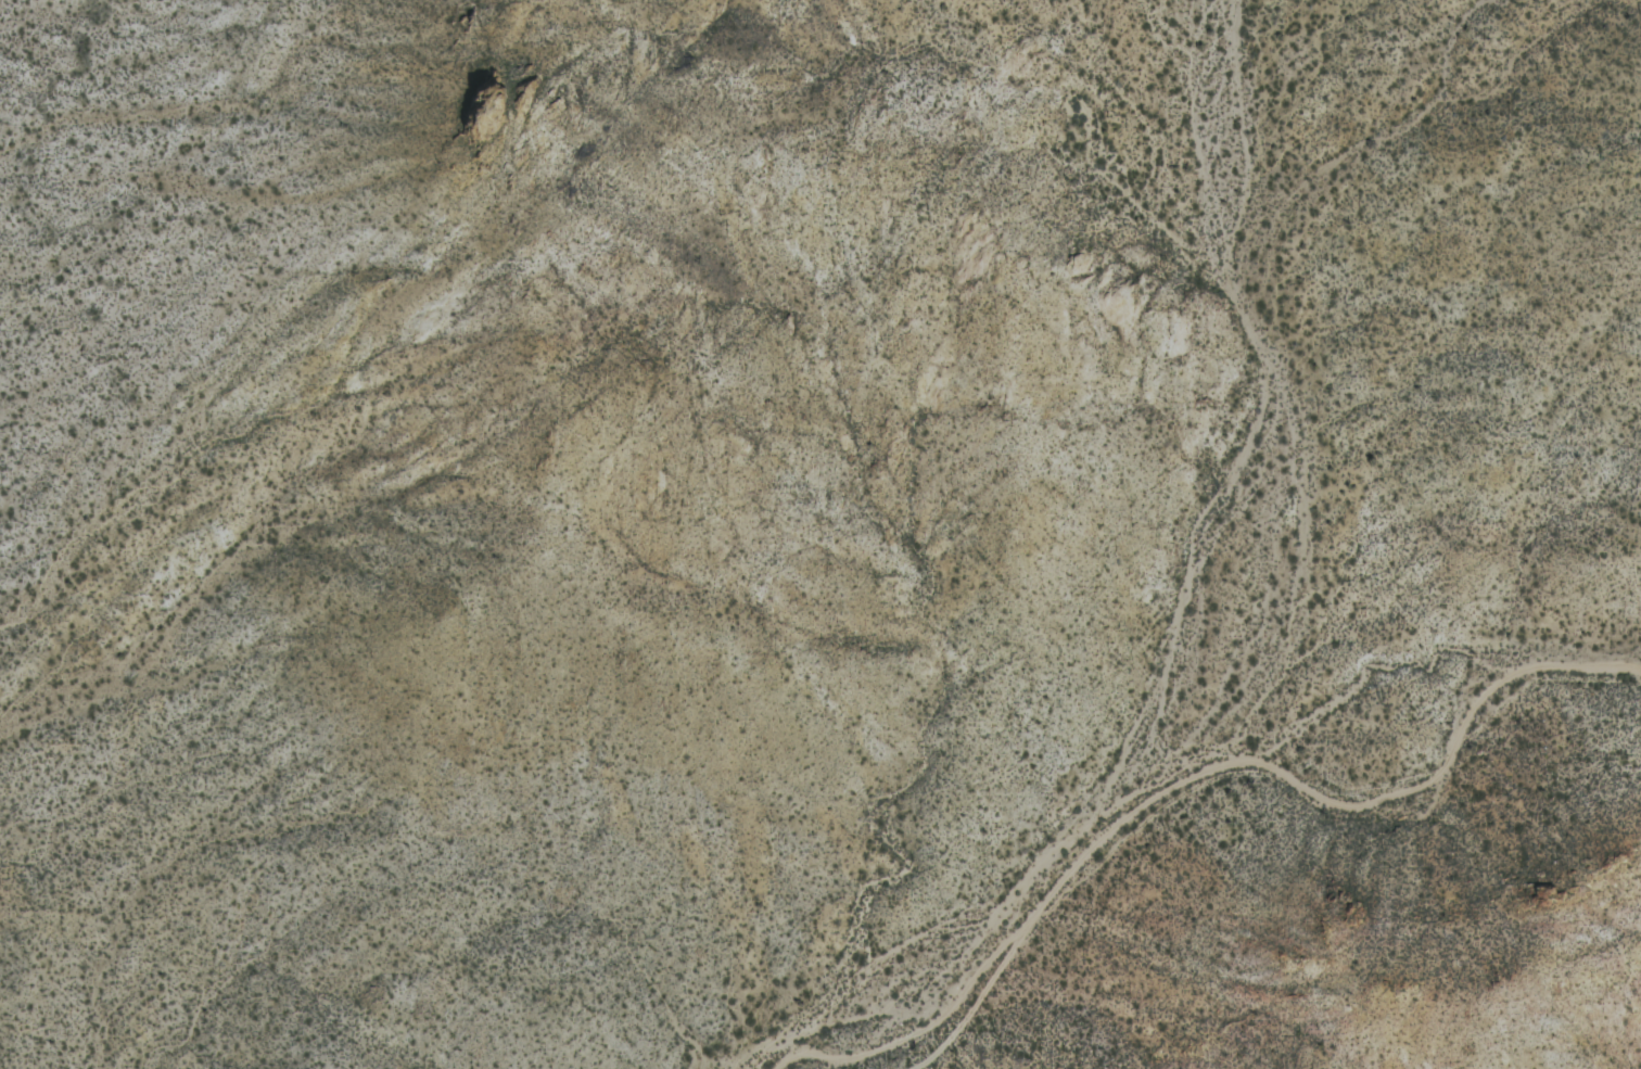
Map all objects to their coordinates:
road: (1256, 807)

